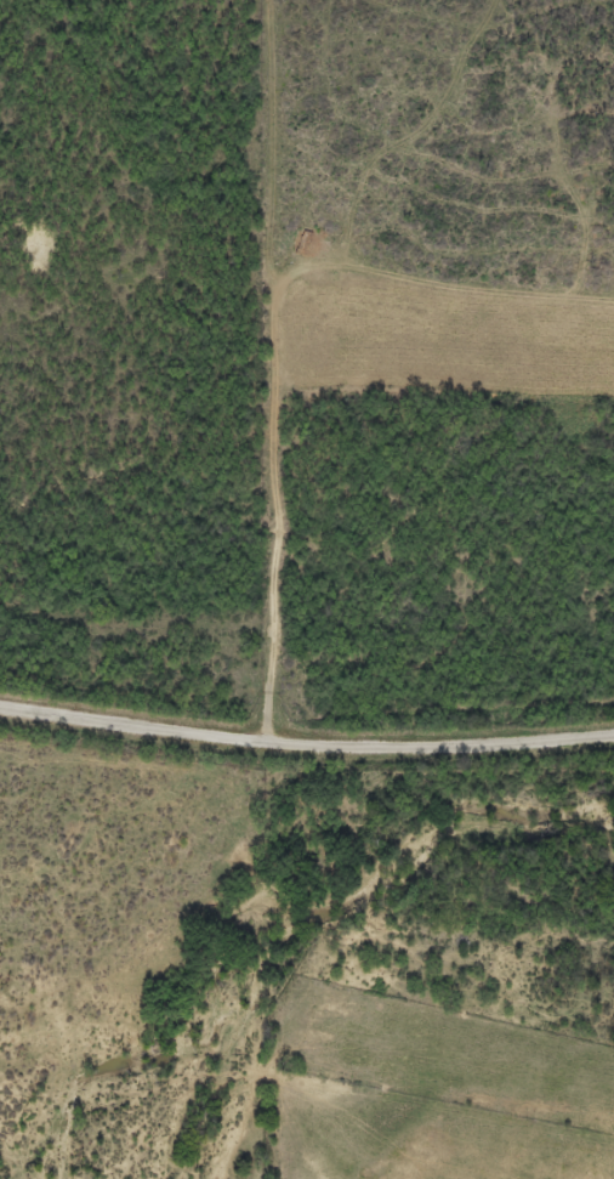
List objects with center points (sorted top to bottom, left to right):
road: (307, 749)

